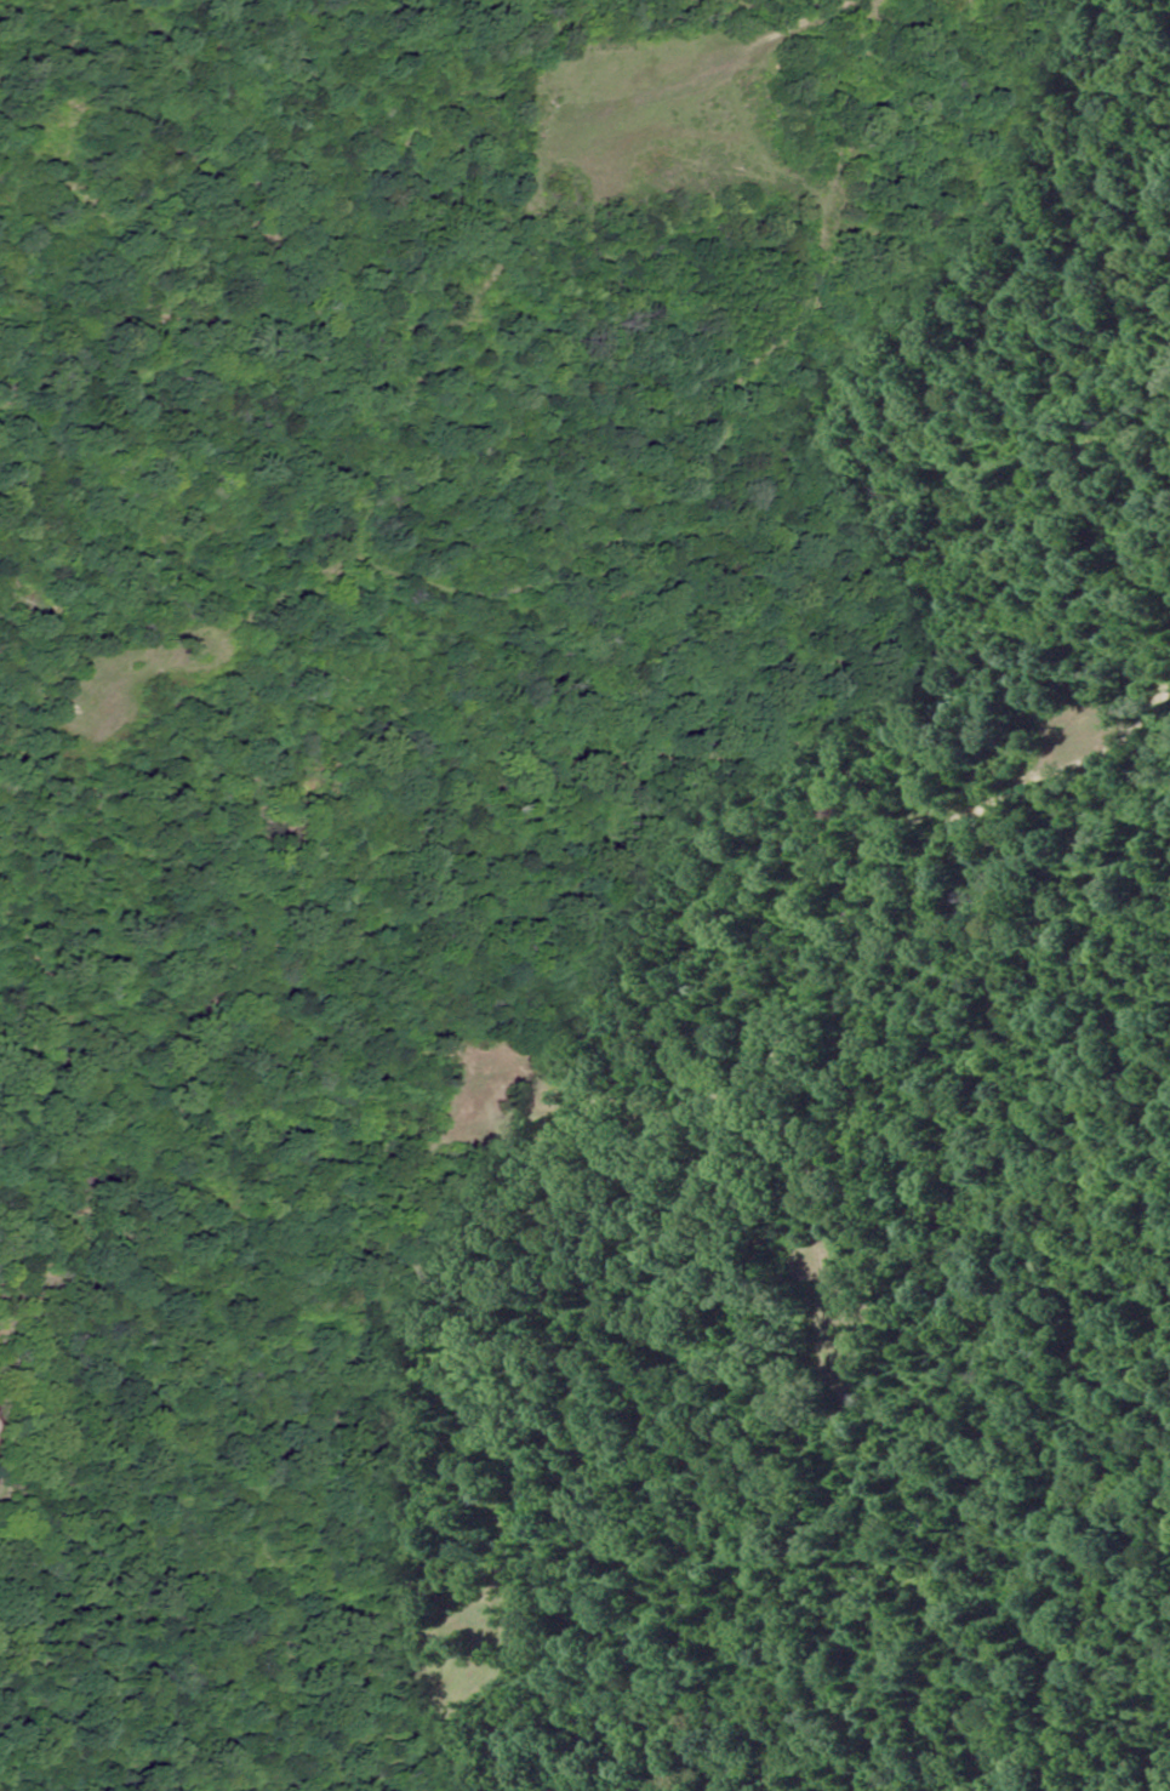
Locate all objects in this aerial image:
road: (835, 16)

